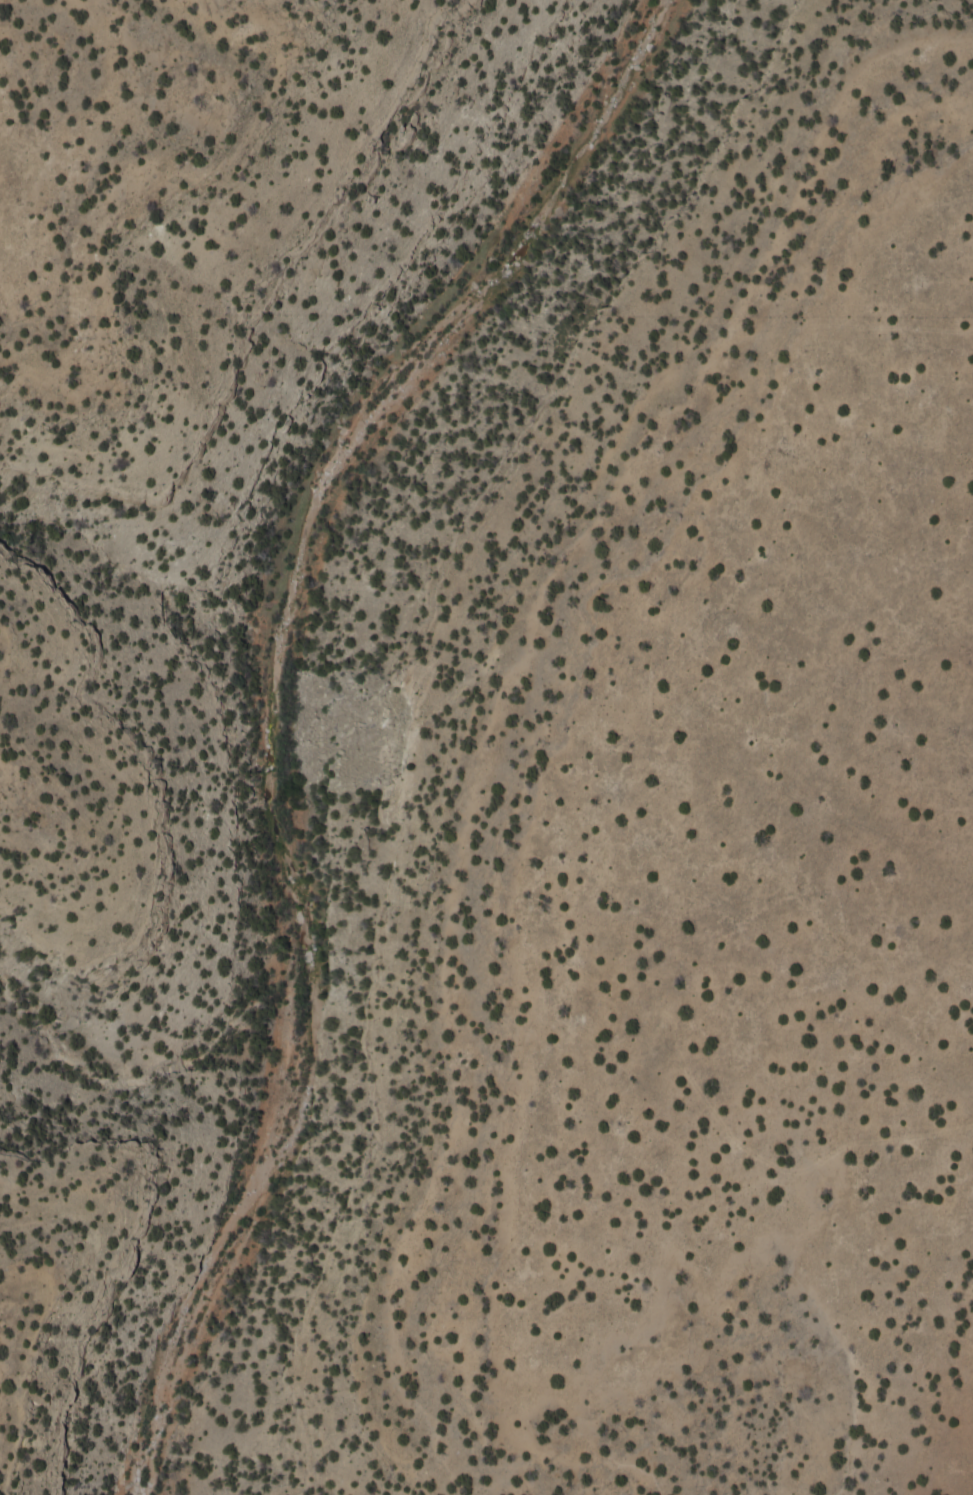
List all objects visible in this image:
road: (13, 810)

